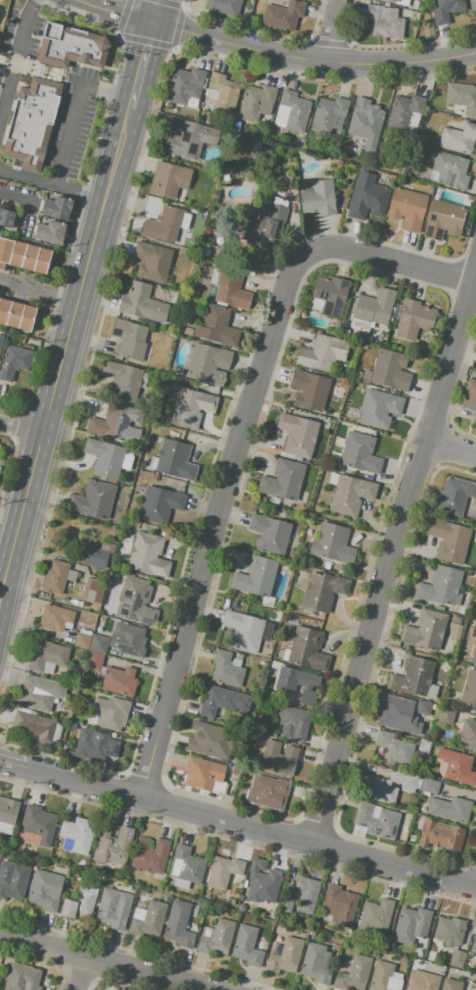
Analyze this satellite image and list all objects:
building: (390, 1)
building: (472, 4)
building: (227, 7)
building: (411, 8)
building: (246, 9)
road: (152, 10)
building: (445, 10)
building: (282, 15)
traffic signals: (149, 21)
building: (383, 21)
road: (329, 30)
building: (70, 46)
road: (273, 54)
road: (16, 61)
road: (139, 67)
building: (185, 86)
building: (222, 92)
building: (461, 97)
building: (257, 102)
building: (294, 110)
building: (404, 112)
building: (327, 114)
road: (79, 115)
building: (367, 118)
building: (32, 123)
building: (458, 138)
building: (189, 139)
building: (257, 144)
building: (430, 154)
building: (450, 170)
building: (225, 177)
building: (169, 180)
road: (53, 186)
road: (16, 198)
building: (318, 198)
building: (367, 200)
building: (56, 208)
building: (407, 208)
building: (205, 214)
building: (6, 217)
building: (443, 220)
building: (163, 224)
building: (265, 227)
building: (49, 232)
building: (23, 255)
building: (151, 262)
road: (472, 283)
building: (231, 289)
road: (40, 291)
building: (193, 292)
building: (330, 294)
building: (142, 303)
building: (372, 309)
building: (16, 314)
building: (414, 319)
building: (216, 326)
building: (187, 331)
building: (345, 333)
building: (1, 339)
building: (129, 339)
building: (321, 352)
building: (475, 353)
building: (14, 361)
road: (65, 363)
building: (208, 363)
building: (390, 370)
building: (357, 375)
building: (365, 376)
building: (125, 380)
building: (358, 386)
building: (309, 390)
building: (470, 397)
building: (191, 408)
building: (378, 408)
road: (24, 421)
building: (114, 424)
building: (297, 435)
road: (239, 442)
road: (450, 448)
building: (360, 453)
building: (106, 459)
building: (173, 461)
building: (283, 480)
building: (350, 495)
building: (454, 495)
building: (93, 499)
building: (274, 501)
building: (158, 504)
building: (474, 514)
building: (270, 534)
building: (448, 541)
building: (332, 543)
road: (393, 548)
building: (97, 555)
building: (147, 555)
building: (326, 564)
building: (255, 576)
building: (54, 577)
building: (440, 587)
building: (93, 591)
building: (322, 592)
building: (136, 601)
building: (475, 613)
building: (56, 618)
building: (454, 628)
building: (424, 630)
building: (243, 631)
building: (129, 639)
building: (82, 641)
building: (99, 645)
building: (306, 650)
building: (473, 653)
building: (47, 656)
building: (94, 662)
building: (271, 663)
building: (265, 665)
building: (225, 670)
building: (412, 677)
building: (118, 681)
building: (297, 684)
building: (469, 691)
building: (34, 695)
building: (451, 697)
building: (222, 702)
building: (423, 708)
building: (108, 713)
building: (446, 716)
building: (397, 720)
building: (293, 723)
building: (34, 725)
building: (467, 735)
building: (210, 741)
building: (95, 746)
building: (424, 746)
building: (394, 749)
building: (278, 758)
road: (12, 764)
building: (458, 768)
building: (202, 773)
building: (405, 780)
building: (429, 786)
building: (378, 790)
building: (266, 792)
building: (449, 808)
building: (7, 814)
building: (376, 821)
building: (38, 824)
road: (250, 825)
building: (77, 834)
building: (440, 835)
building: (412, 838)
building: (111, 845)
building: (149, 856)
building: (186, 865)
building: (223, 871)
building: (13, 879)
building: (106, 881)
building: (262, 881)
building: (164, 888)
building: (46, 889)
building: (306, 894)
building: (141, 895)
building: (241, 900)
building: (229, 901)
building: (80, 902)
building: (286, 905)
building: (338, 905)
building: (113, 908)
building: (375, 917)
building: (149, 920)
building: (411, 925)
building: (178, 926)
building: (449, 930)
building: (216, 937)
building: (474, 942)
building: (246, 946)
building: (432, 948)
building: (284, 956)
building: (422, 956)
building: (456, 958)
road: (103, 962)
building: (315, 964)
road: (79, 973)
building: (353, 974)
building: (465, 974)
building: (23, 976)
building: (384, 977)
building: (425, 982)
building: (450, 984)
building: (109, 989)
building: (111, 989)

